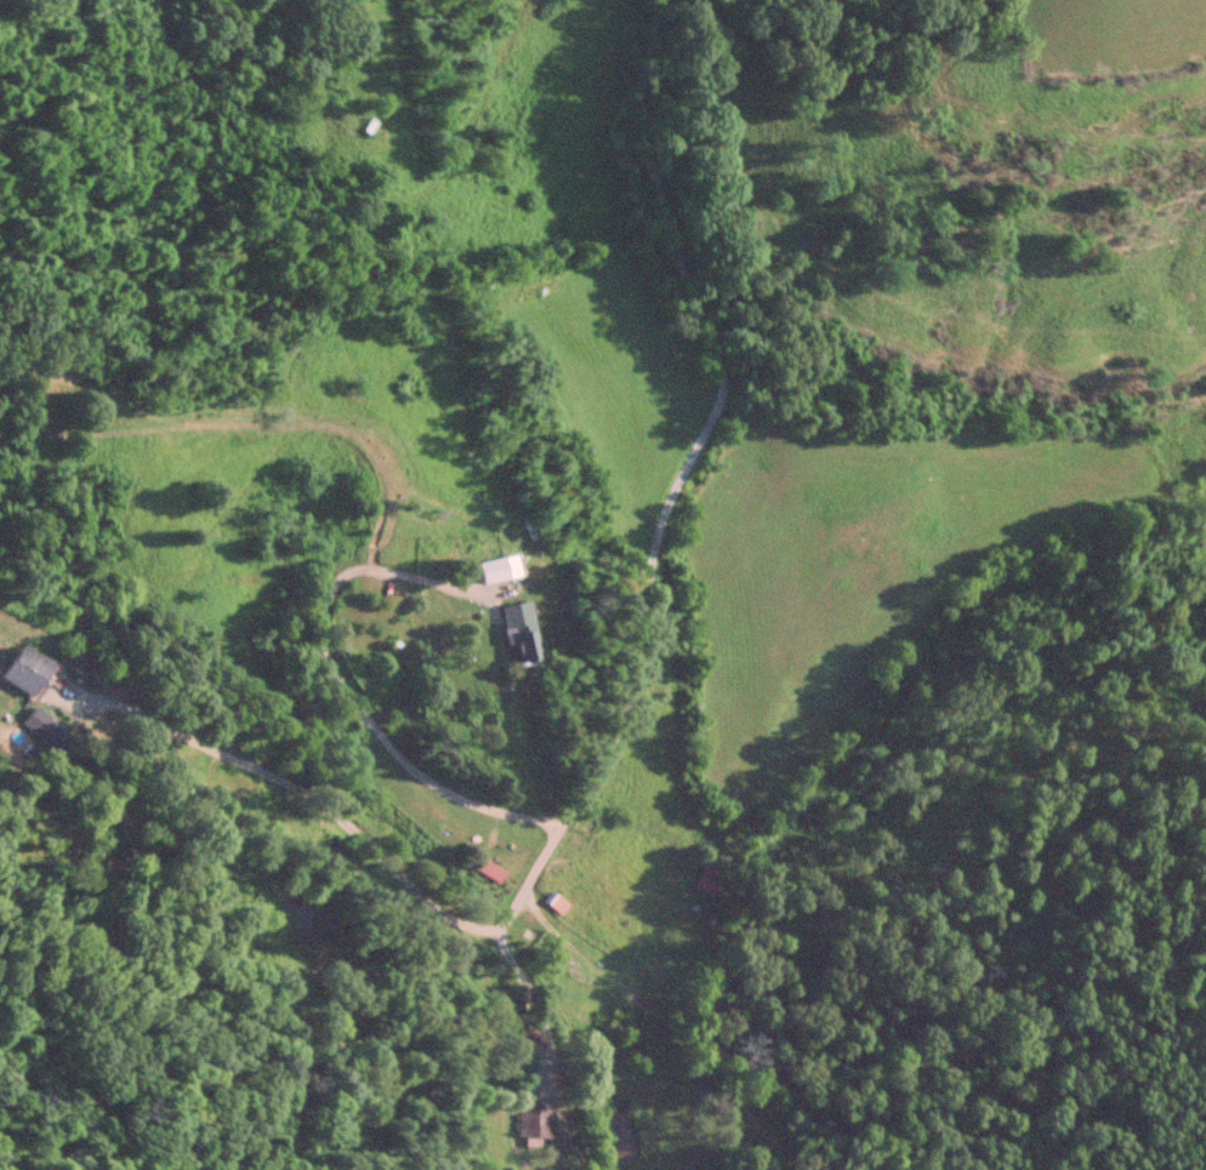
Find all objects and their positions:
road: (652, 516)
road: (339, 685)
road: (297, 789)

